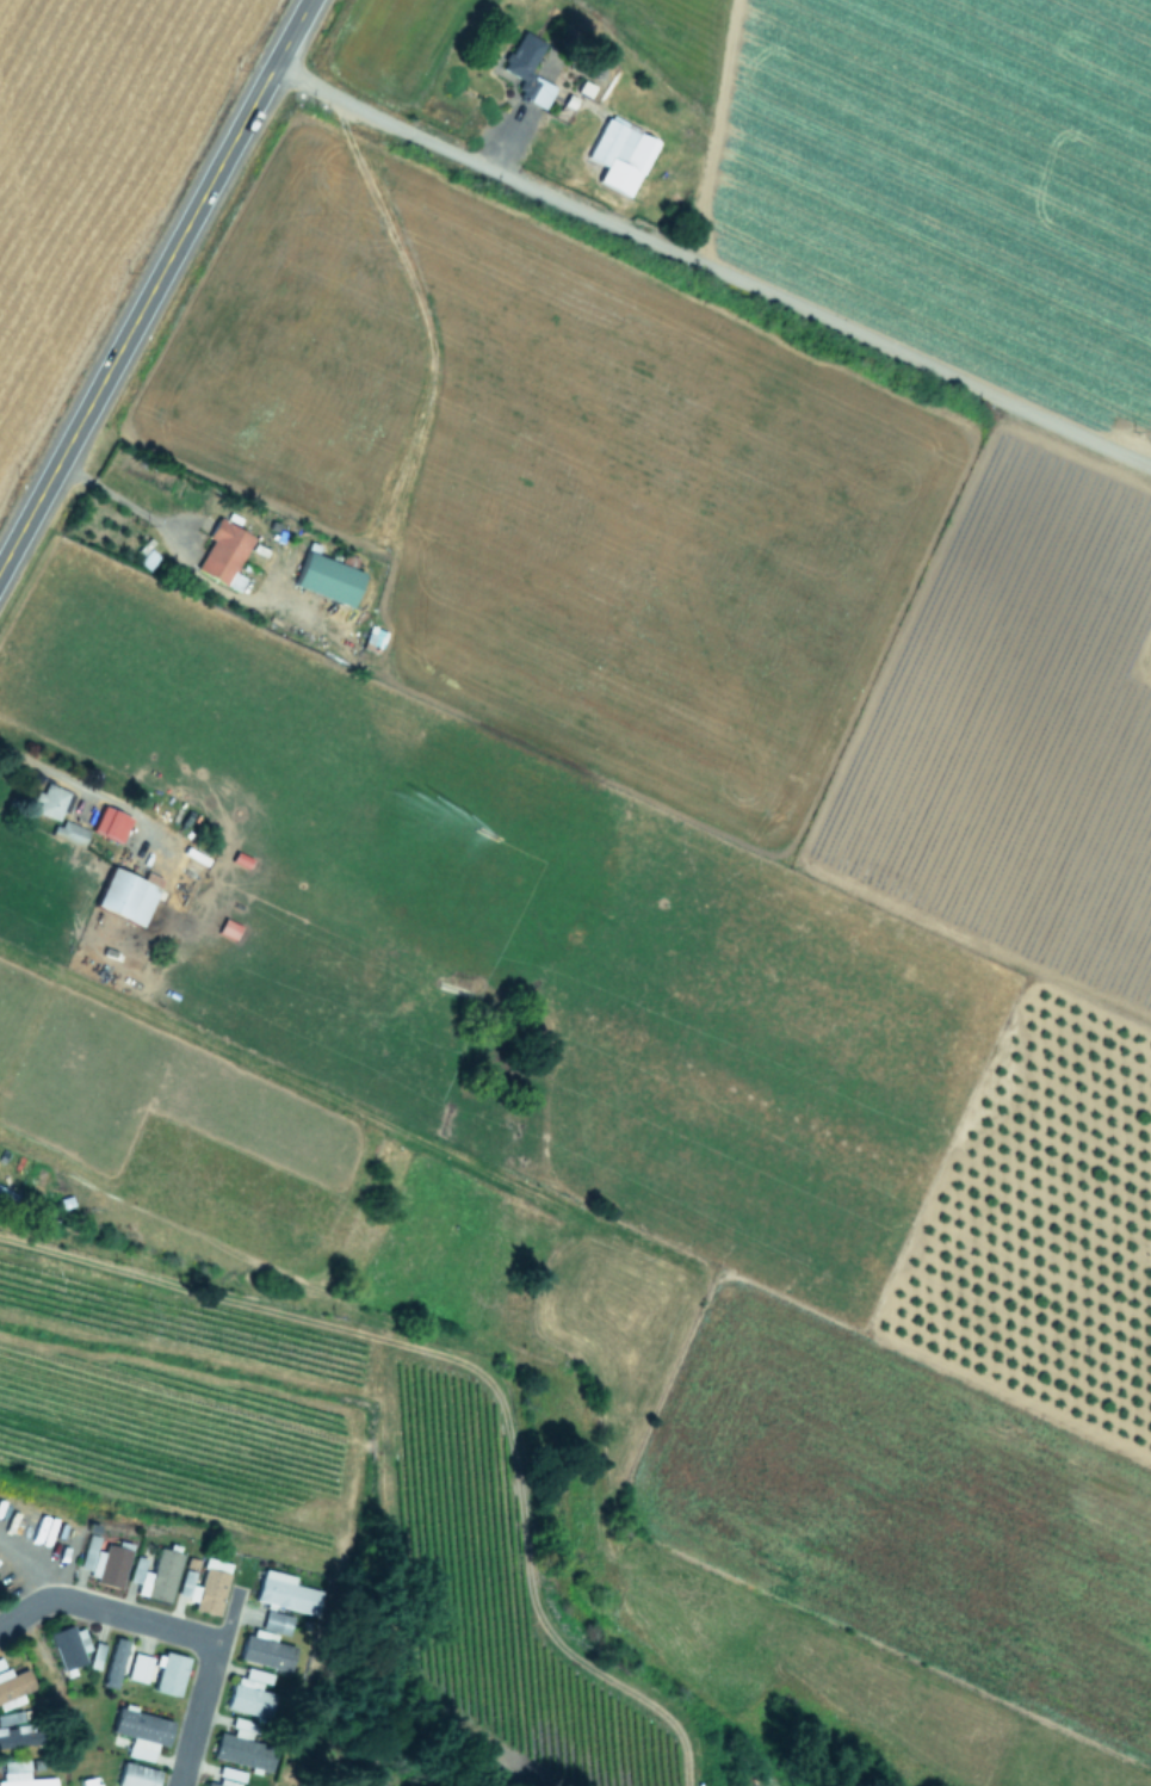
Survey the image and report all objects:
building: (526, 73)
building: (619, 157)
road: (711, 270)
road: (155, 284)
road: (119, 502)
building: (221, 555)
building: (326, 581)
road: (51, 766)
building: (49, 804)
building: (67, 836)
crop: (575, 892)
building: (125, 900)
building: (7, 1204)
building: (109, 1566)
building: (159, 1576)
building: (184, 1584)
building: (208, 1593)
building: (280, 1594)
building: (274, 1625)
road: (179, 1630)
building: (64, 1649)
building: (264, 1654)
building: (137, 1669)
building: (12, 1685)
building: (248, 1697)
building: (140, 1734)
building: (242, 1749)
building: (19, 1775)
building: (135, 1776)
building: (89, 1782)
building: (203, 1785)

